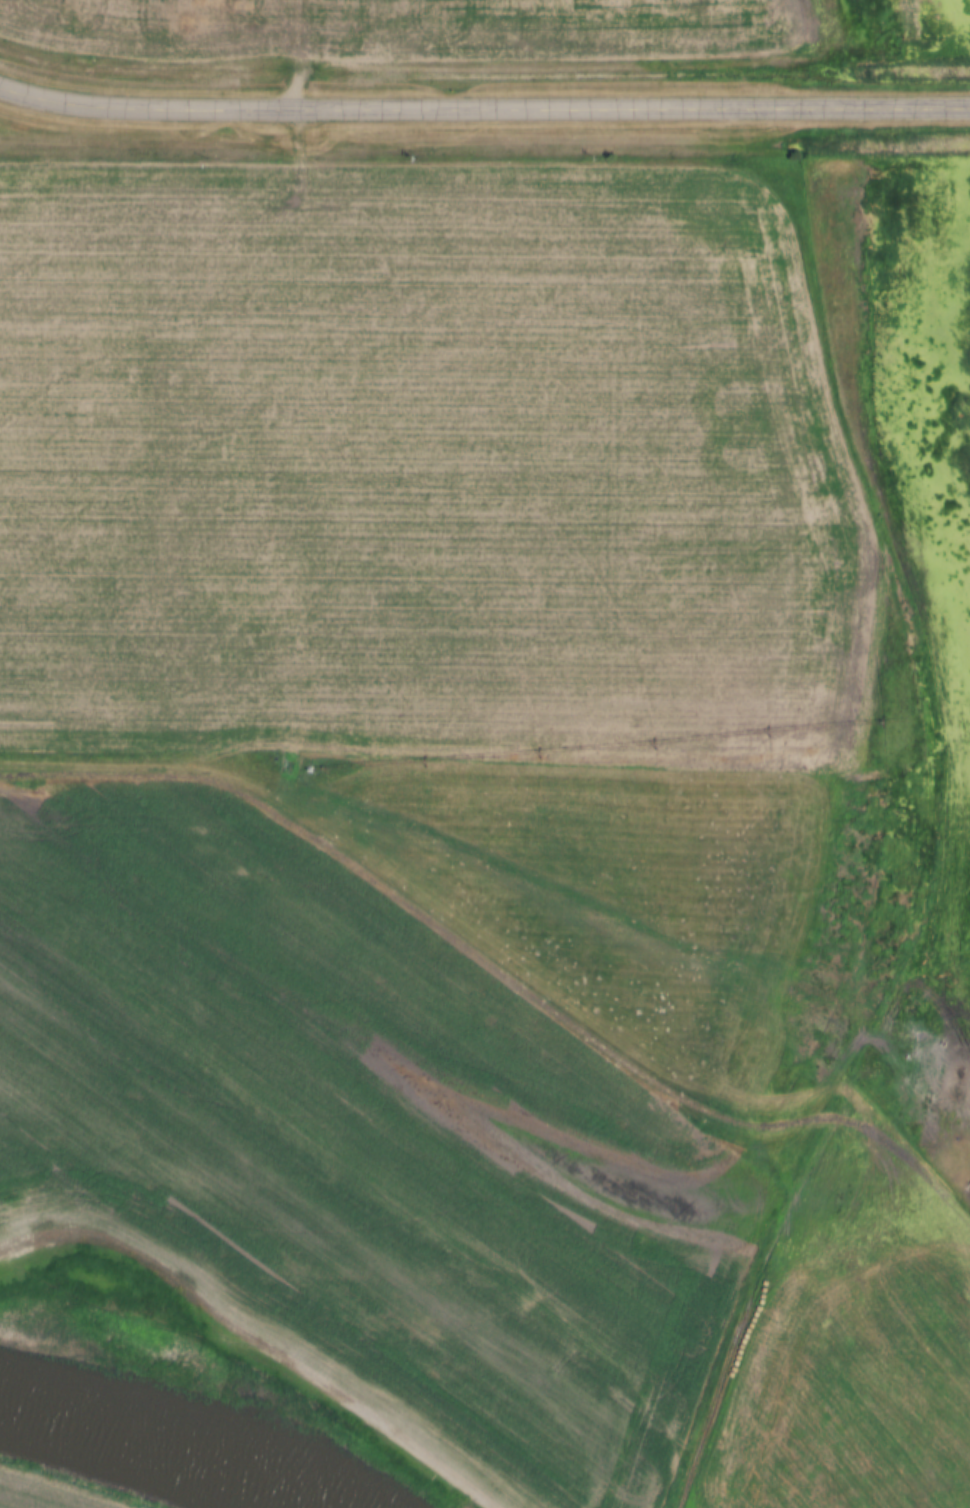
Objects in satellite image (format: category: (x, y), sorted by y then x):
road: (483, 113)
river: (152, 1450)

